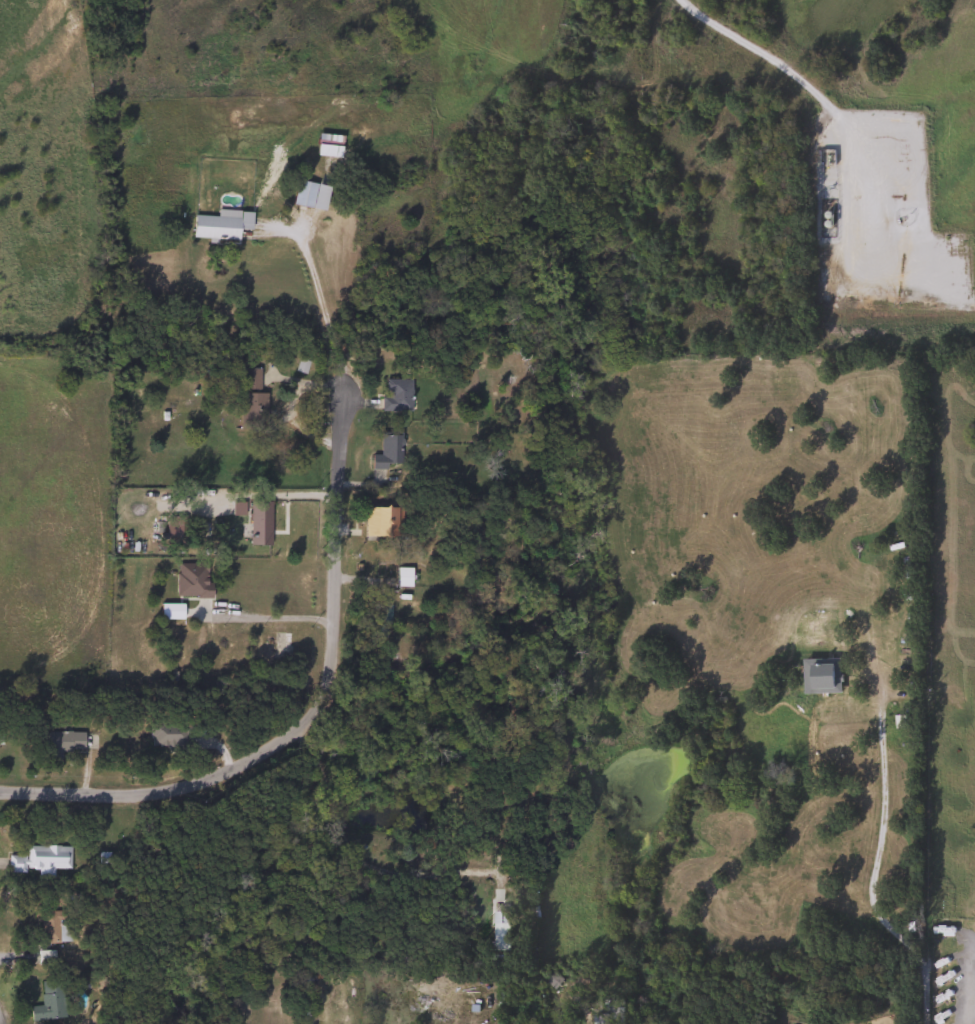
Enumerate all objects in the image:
road: (763, 55)
building: (301, 194)
building: (218, 225)
road: (321, 309)
building: (395, 396)
building: (386, 453)
building: (258, 524)
building: (382, 524)
building: (401, 578)
building: (190, 581)
road: (263, 613)
road: (307, 709)
building: (168, 738)
building: (59, 743)
road: (350, 856)
building: (37, 860)
road: (869, 880)
building: (45, 928)
building: (500, 944)
road: (965, 982)
building: (46, 1002)

